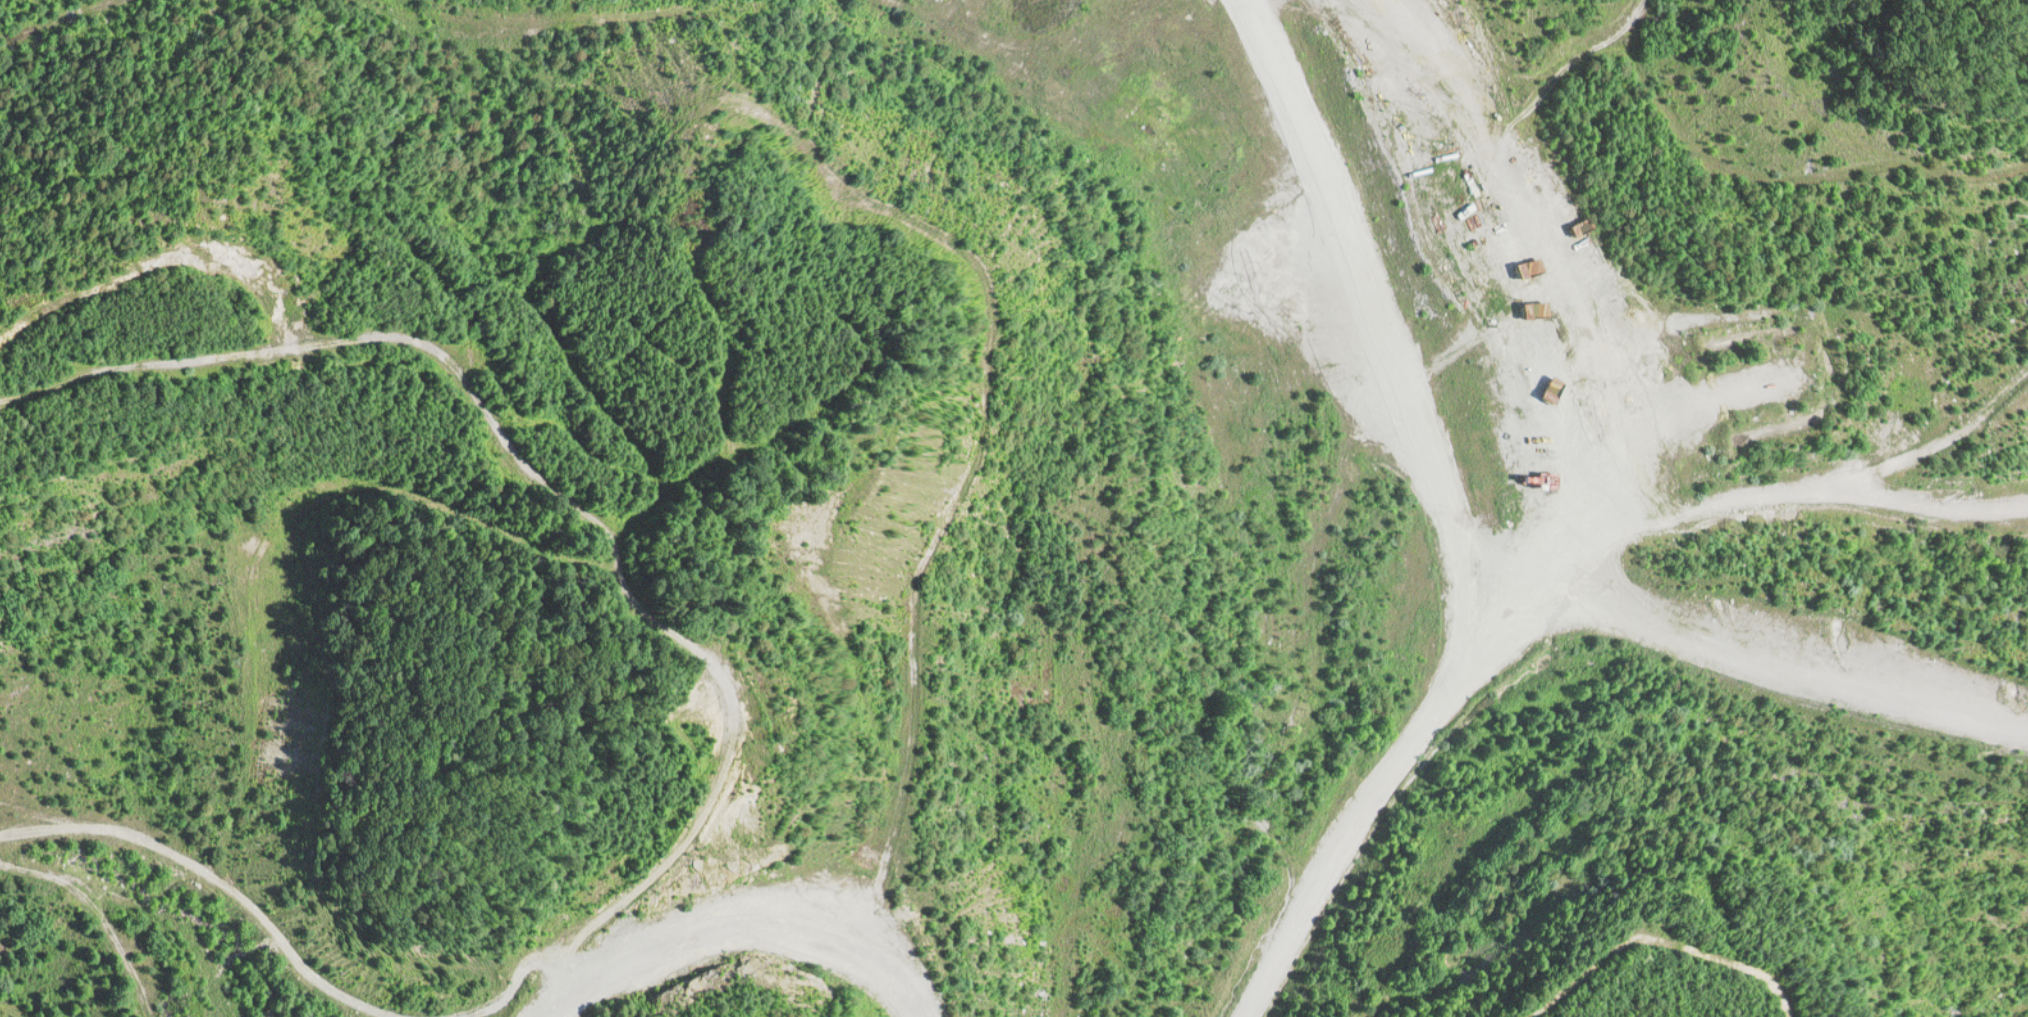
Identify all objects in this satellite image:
quarry: (1014, 508)

